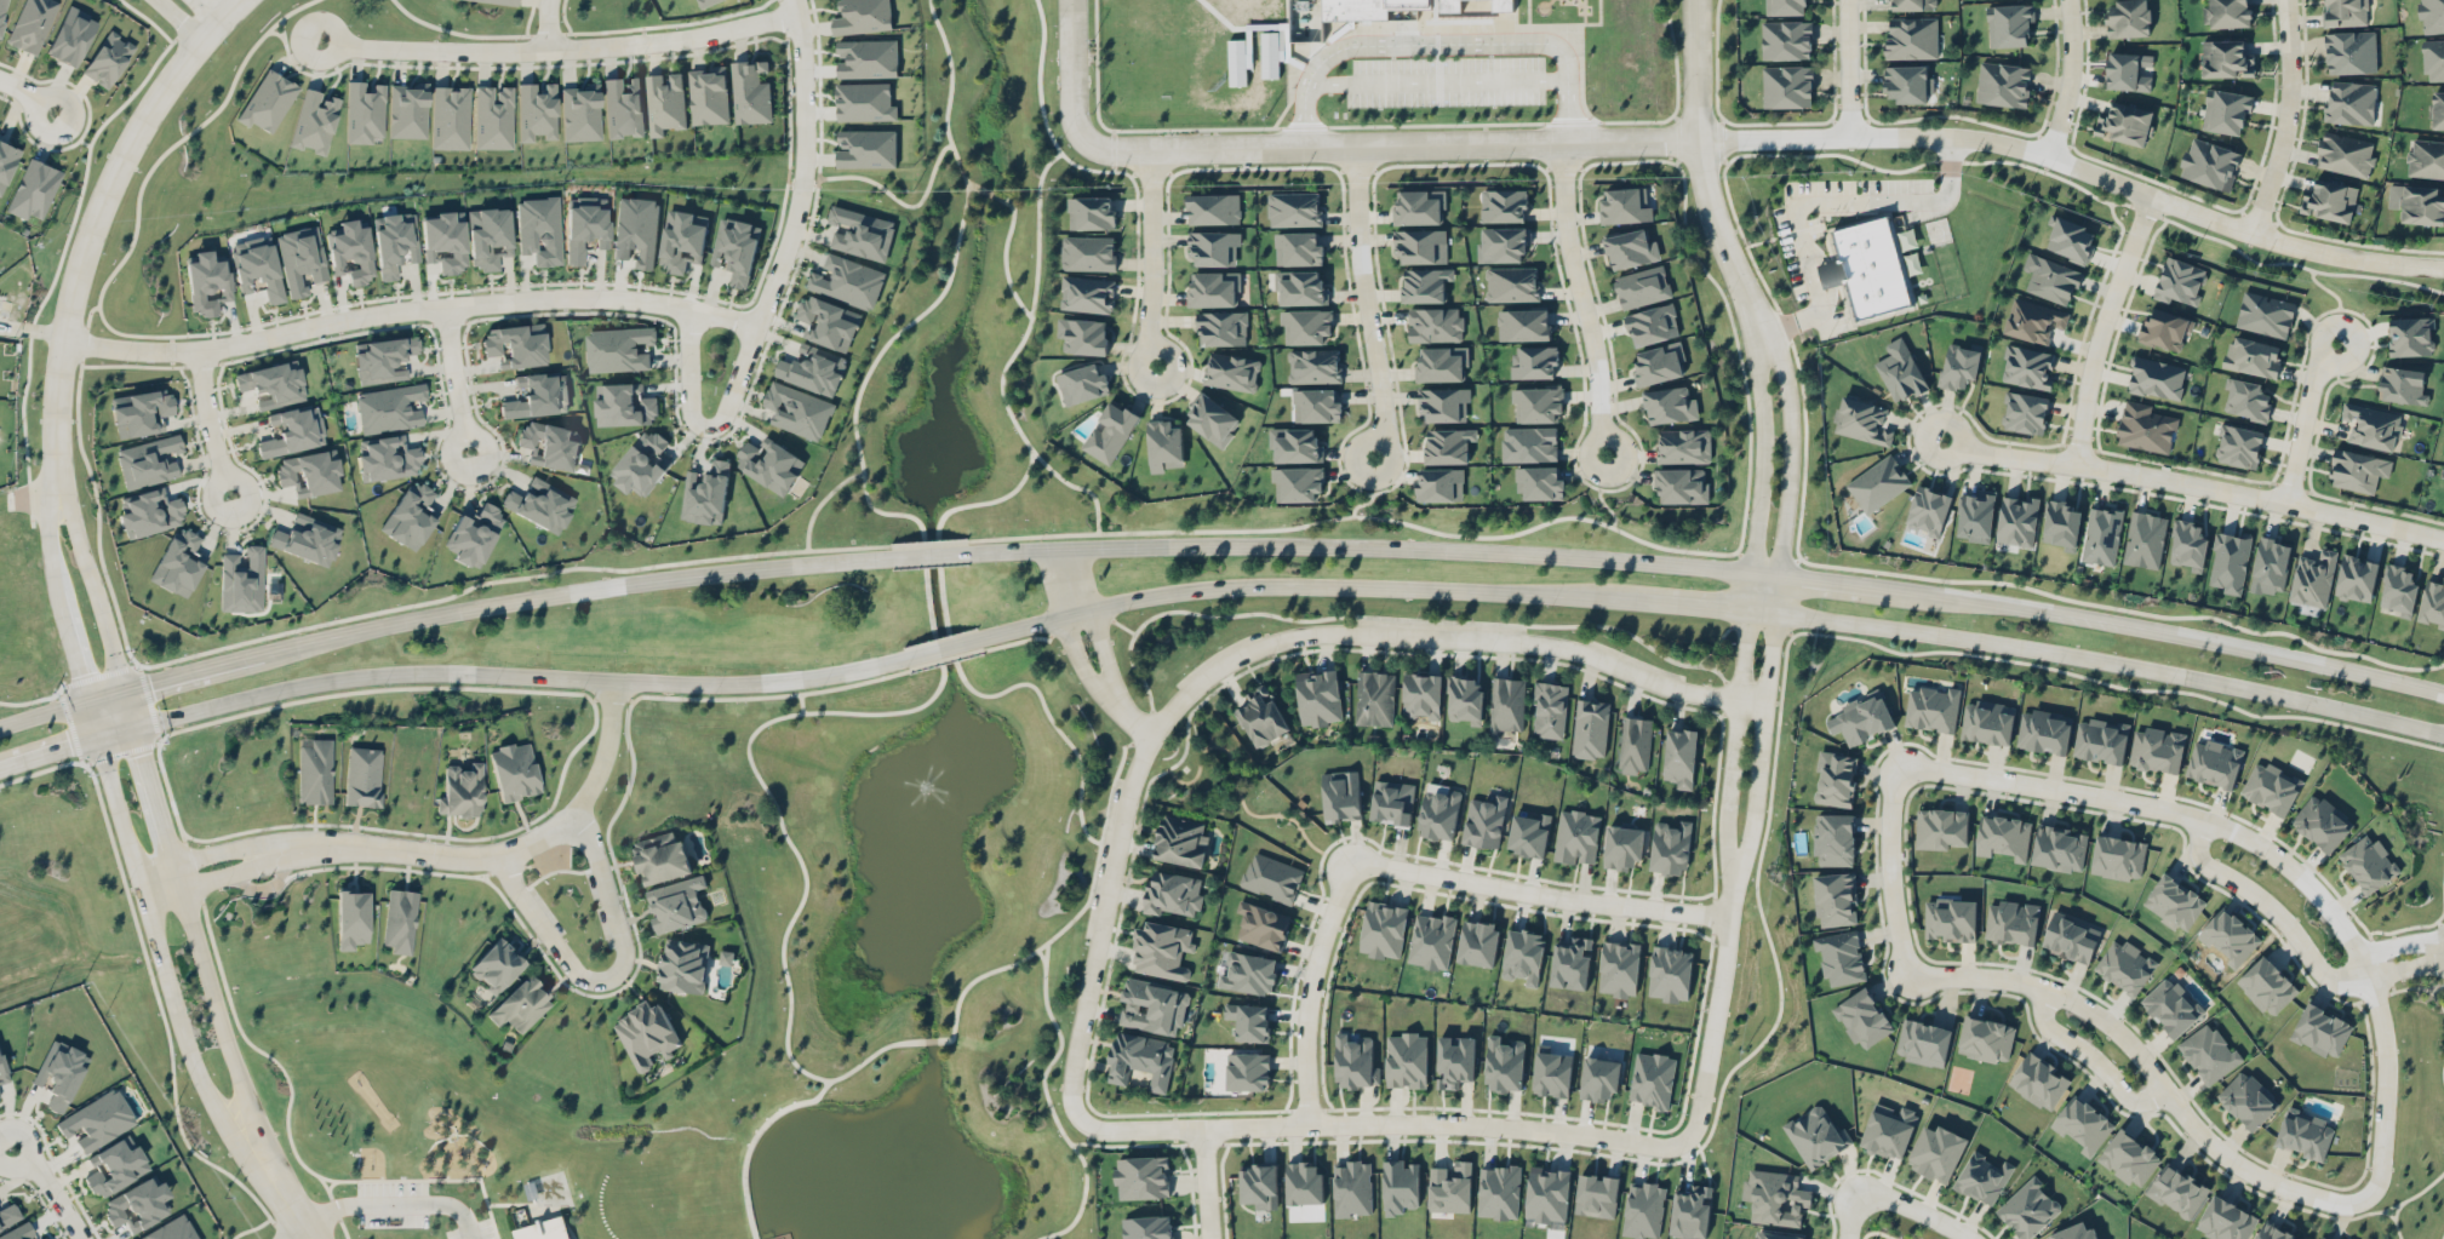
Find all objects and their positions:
building: (502, 1)
building: (706, 2)
building: (1913, 4)
building: (1303, 5)
building: (1475, 6)
building: (1786, 6)
road: (207, 10)
building: (1270, 10)
building: (1369, 10)
building: (2, 12)
building: (2226, 12)
building: (2343, 12)
building: (2429, 15)
building: (863, 16)
building: (2127, 17)
road: (181, 19)
building: (30, 24)
road: (548, 24)
building: (2009, 24)
building: (71, 35)
building: (1910, 36)
building: (1786, 39)
road: (1442, 42)
road: (560, 48)
building: (2349, 51)
building: (1271, 53)
building: (108, 58)
building: (868, 58)
building: (2225, 58)
building: (2432, 58)
road: (1847, 68)
building: (2127, 70)
road: (1716, 76)
road: (2068, 79)
parking lot: (1447, 80)
road: (1438, 81)
building: (1905, 84)
building: (2003, 84)
building: (1787, 85)
building: (751, 92)
road: (27, 93)
building: (709, 96)
building: (268, 101)
road: (948, 101)
building: (2348, 101)
building: (665, 102)
building: (864, 102)
building: (623, 107)
building: (2437, 108)
building: (408, 109)
building: (364, 110)
building: (537, 110)
building: (2225, 110)
building: (580, 111)
building: (493, 116)
building: (450, 117)
road: (2286, 117)
building: (314, 121)
building: (2123, 122)
road: (1047, 127)
road: (1702, 139)
building: (866, 148)
building: (2345, 153)
building: (2425, 157)
road: (1114, 161)
building: (6, 162)
building: (2208, 162)
road: (1704, 167)
building: (34, 189)
road: (2083, 190)
road: (989, 193)
road: (893, 195)
building: (2329, 199)
road: (1819, 200)
building: (2416, 201)
building: (1624, 203)
building: (1503, 205)
building: (1419, 206)
building: (1213, 208)
building: (1293, 208)
building: (1091, 212)
road: (95, 220)
building: (585, 225)
building: (539, 229)
building: (636, 229)
building: (860, 233)
building: (488, 236)
building: (445, 240)
building: (2071, 240)
building: (683, 241)
building: (395, 242)
building: (1501, 242)
building: (1420, 246)
building: (1212, 247)
building: (1298, 248)
building: (1631, 248)
building: (736, 249)
building: (351, 251)
building: (1088, 252)
road: (1004, 253)
building: (301, 258)
road: (1152, 262)
building: (257, 265)
building: (1872, 268)
building: (2050, 279)
building: (207, 281)
building: (847, 281)
building: (2179, 281)
building: (1512, 283)
road: (772, 285)
building: (1425, 285)
building: (1300, 286)
building: (1642, 286)
building: (1213, 287)
building: (1087, 293)
road: (1582, 300)
road: (1366, 303)
road: (408, 310)
building: (2265, 312)
building: (2033, 317)
building: (828, 322)
building: (1435, 323)
building: (1307, 325)
building: (1523, 325)
building: (1652, 325)
road: (2101, 326)
building: (1221, 328)
building: (2164, 328)
building: (1082, 334)
building: (2410, 334)
building: (515, 344)
building: (619, 348)
building: (2253, 356)
building: (384, 358)
road: (1006, 362)
building: (1959, 362)
building: (1442, 363)
building: (1658, 363)
building: (2028, 363)
building: (1313, 365)
building: (813, 368)
building: (1231, 371)
building: (1901, 371)
building: (2157, 378)
road: (454, 380)
building: (273, 383)
building: (1082, 383)
building: (2402, 385)
building: (537, 394)
building: (2245, 398)
building: (1316, 403)
building: (1536, 403)
building: (1670, 403)
building: (1443, 405)
building: (624, 406)
building: (389, 407)
building: (797, 409)
building: (141, 411)
building: (2025, 412)
road: (2303, 417)
building: (1861, 418)
building: (1212, 419)
road: (210, 424)
building: (2373, 425)
building: (2145, 428)
building: (1112, 429)
building: (293, 430)
building: (1294, 443)
building: (1529, 443)
building: (549, 444)
building: (1164, 444)
building: (1448, 444)
building: (1683, 444)
building: (2238, 444)
building: (388, 457)
building: (148, 460)
building: (642, 463)
building: (771, 465)
road: (1790, 466)
road: (1761, 469)
building: (2358, 470)
building: (310, 471)
building: (1878, 481)
building: (1541, 482)
road: (2194, 482)
building: (1297, 483)
building: (1440, 483)
building: (1682, 484)
building: (705, 493)
building: (540, 504)
road: (815, 506)
building: (1927, 509)
building: (150, 512)
building: (411, 515)
building: (1976, 515)
building: (2017, 520)
building: (2062, 524)
building: (473, 533)
building: (2102, 535)
building: (308, 538)
building: (2145, 539)
building: (2187, 543)
road: (1360, 546)
road: (929, 555)
building: (178, 562)
building: (2230, 562)
building: (2270, 566)
building: (2313, 578)
building: (2356, 578)
road: (1820, 579)
building: (242, 580)
road: (93, 583)
road: (1294, 584)
building: (2399, 590)
road: (550, 595)
building: (2432, 602)
road: (1694, 604)
road: (2020, 606)
road: (1094, 624)
road: (1068, 633)
road: (945, 648)
road: (1250, 653)
road: (2297, 659)
road: (2111, 662)
road: (957, 666)
road: (520, 673)
road: (170, 677)
traffic signals: (81, 678)
traffic signals: (144, 684)
road: (105, 694)
road: (800, 694)
building: (1421, 695)
building: (1317, 696)
building: (1374, 696)
building: (1465, 699)
building: (1506, 705)
road: (130, 707)
building: (1547, 709)
building: (1931, 709)
road: (889, 711)
road: (44, 712)
building: (1261, 715)
road: (1133, 718)
building: (1864, 718)
building: (1987, 722)
building: (1590, 728)
building: (2044, 730)
building: (2100, 739)
road: (1733, 741)
building: (1633, 744)
road: (1761, 745)
road: (67, 746)
traffic signals: (67, 747)
traffic signals: (142, 747)
building: (2157, 750)
road: (91, 751)
building: (1679, 757)
building: (2214, 763)
building: (315, 769)
road: (41, 770)
building: (514, 770)
building: (364, 775)
building: (1836, 778)
road: (153, 785)
building: (2271, 787)
building: (462, 788)
fountain: (928, 795)
building: (1340, 795)
building: (1391, 802)
building: (1440, 811)
road: (120, 816)
building: (1484, 821)
building: (2320, 821)
building: (1941, 828)
building: (1529, 834)
building: (2002, 836)
building: (1576, 837)
building: (1180, 839)
building: (1835, 839)
building: (1622, 845)
building: (1670, 847)
building: (2059, 848)
road: (221, 850)
road: (496, 850)
road: (2271, 853)
road: (172, 854)
building: (2118, 857)
building: (663, 859)
road: (555, 868)
road: (1889, 872)
road: (227, 873)
road: (156, 874)
road: (178, 876)
building: (1271, 877)
road: (160, 887)
building: (1172, 891)
road: (1538, 895)
building: (1836, 899)
building: (2174, 902)
building: (676, 904)
road: (2273, 907)
road: (1076, 913)
building: (351, 917)
building: (400, 919)
building: (1951, 919)
building: (2011, 922)
building: (1263, 925)
building: (1383, 929)
building: (2228, 937)
building: (2068, 939)
building: (1431, 940)
building: (1478, 942)
road: (2398, 943)
building: (1162, 950)
road: (1041, 954)
building: (1523, 956)
building: (1841, 957)
building: (1572, 963)
building: (496, 964)
building: (683, 965)
building: (2127, 966)
road: (2404, 966)
building: (1619, 968)
building: (1249, 973)
building: (1670, 973)
road: (609, 976)
building: (2267, 985)
road: (1307, 988)
building: (520, 1004)
building: (1152, 1005)
building: (2171, 1006)
road: (1715, 1009)
road: (217, 1010)
road: (164, 1017)
building: (1862, 1017)
building: (1249, 1021)
building: (2320, 1029)
building: (646, 1034)
road: (931, 1039)
building: (1986, 1039)
building: (1923, 1042)
building: (2209, 1052)
road: (2091, 1055)
building: (1141, 1060)
building: (1407, 1060)
building: (1454, 1061)
building: (1355, 1062)
building: (1504, 1063)
road: (2150, 1068)
building: (1248, 1071)
building: (1551, 1072)
building: (61, 1073)
building: (1599, 1078)
building: (1652, 1079)
building: (2038, 1080)
building: (2246, 1097)
road: (1049, 1102)
building: (96, 1119)
building: (2083, 1123)
road: (1380, 1124)
park: (411, 1128)
building: (1888, 1130)
road: (288, 1132)
building: (2305, 1134)
building: (1816, 1136)
road: (751, 1138)
road: (1137, 1143)
building: (1938, 1152)
building: (2129, 1158)
building: (114, 1165)
building: (1141, 1177)
building: (1982, 1177)
road: (1204, 1182)
road: (331, 1183)
building: (1303, 1183)
building: (1259, 1184)
building: (1400, 1186)
road: (51, 1187)
road: (275, 1187)
building: (1450, 1187)
building: (1352, 1188)
building: (2177, 1191)
building: (1498, 1192)
building: (1547, 1193)
building: (1597, 1195)
building: (1775, 1197)
road: (394, 1203)
building: (138, 1204)
road: (539, 1204)
road: (336, 1206)
building: (2028, 1209)
building: (1643, 1210)
road: (1910, 1210)
building: (1690, 1211)
building: (8, 1215)
road: (1848, 1217)
building: (2226, 1220)
building: (1146, 1227)
building: (171, 1229)
building: (544, 1229)
building: (18, 1232)
building: (2073, 1232)
building: (2272, 1232)
road: (293, 1233)
building: (1778, 1235)
building: (46, 1238)
building: (2319, 1238)

